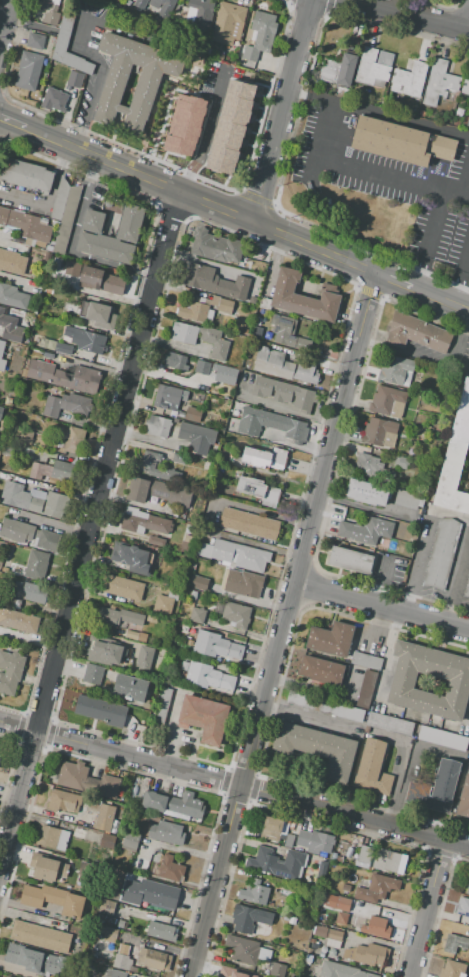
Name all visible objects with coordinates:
building: (157, 7)
building: (48, 11)
road: (3, 13)
building: (202, 13)
road: (405, 16)
building: (228, 24)
road: (468, 28)
building: (64, 32)
building: (260, 35)
building: (36, 41)
building: (219, 57)
building: (374, 68)
building: (28, 70)
building: (338, 70)
road: (100, 75)
building: (74, 79)
building: (409, 80)
building: (439, 83)
building: (465, 86)
building: (168, 88)
building: (112, 91)
road: (307, 97)
building: (53, 100)
road: (278, 111)
building: (467, 120)
road: (400, 121)
building: (174, 122)
road: (13, 124)
building: (229, 125)
road: (206, 136)
building: (400, 142)
road: (101, 161)
road: (367, 169)
building: (25, 174)
building: (60, 199)
road: (51, 201)
road: (212, 207)
building: (67, 219)
building: (129, 224)
building: (25, 225)
road: (430, 241)
building: (216, 246)
building: (49, 248)
road: (71, 248)
road: (311, 248)
building: (32, 253)
building: (47, 256)
building: (11, 262)
road: (460, 275)
building: (101, 280)
road: (390, 281)
building: (216, 282)
building: (13, 296)
building: (301, 296)
building: (253, 300)
road: (437, 300)
building: (204, 308)
building: (101, 316)
building: (9, 328)
building: (287, 333)
building: (416, 333)
building: (199, 338)
building: (85, 339)
building: (1, 347)
building: (63, 348)
building: (48, 355)
road: (429, 357)
building: (175, 361)
building: (2, 364)
building: (284, 366)
building: (201, 367)
building: (396, 370)
building: (224, 373)
building: (239, 375)
building: (65, 376)
road: (167, 376)
building: (239, 386)
building: (283, 393)
building: (169, 397)
building: (8, 400)
building: (387, 401)
building: (235, 404)
building: (65, 405)
building: (1, 412)
building: (192, 414)
building: (174, 420)
building: (156, 425)
building: (271, 425)
building: (221, 428)
building: (380, 432)
building: (24, 436)
building: (196, 438)
building: (74, 440)
building: (264, 458)
building: (454, 458)
building: (401, 463)
building: (372, 467)
building: (53, 471)
building: (4, 476)
building: (258, 490)
building: (155, 491)
building: (366, 492)
building: (21, 497)
building: (407, 499)
building: (56, 505)
building: (177, 514)
building: (145, 523)
building: (249, 523)
road: (88, 529)
building: (365, 530)
building: (29, 535)
building: (155, 540)
road: (423, 544)
building: (441, 553)
building: (234, 554)
building: (132, 560)
building: (350, 560)
building: (36, 564)
road: (456, 572)
road: (379, 582)
building: (198, 583)
building: (243, 583)
building: (119, 587)
building: (466, 587)
building: (34, 593)
building: (192, 594)
building: (11, 602)
building: (167, 603)
road: (381, 605)
building: (233, 613)
building: (193, 614)
building: (119, 617)
building: (18, 620)
road: (282, 626)
building: (133, 628)
building: (136, 635)
building: (331, 639)
building: (216, 645)
building: (98, 648)
building: (143, 658)
building: (366, 661)
building: (184, 666)
building: (10, 671)
building: (320, 671)
building: (91, 673)
building: (207, 677)
building: (450, 678)
building: (130, 687)
building: (366, 688)
building: (324, 705)
building: (101, 711)
building: (203, 717)
building: (390, 724)
building: (443, 738)
building: (0, 747)
building: (317, 749)
building: (372, 770)
building: (85, 779)
road: (234, 783)
building: (435, 788)
building: (464, 799)
building: (63, 801)
building: (173, 806)
building: (101, 814)
building: (271, 829)
building: (164, 832)
building: (52, 837)
building: (106, 840)
building: (130, 840)
building: (288, 841)
building: (314, 841)
building: (349, 854)
building: (363, 857)
building: (385, 860)
building: (277, 863)
building: (47, 868)
building: (168, 868)
building: (321, 872)
building: (376, 888)
building: (467, 889)
building: (149, 893)
building: (253, 894)
building: (54, 900)
building: (329, 901)
building: (342, 904)
building: (462, 907)
building: (106, 908)
building: (355, 908)
road: (428, 908)
building: (364, 910)
building: (324, 916)
road: (30, 917)
building: (285, 917)
building: (248, 918)
building: (341, 918)
building: (291, 920)
building: (121, 924)
building: (375, 927)
building: (319, 931)
building: (109, 932)
building: (161, 932)
building: (335, 934)
building: (40, 937)
building: (312, 940)
building: (454, 943)
building: (242, 950)
building: (308, 951)
building: (20, 954)
building: (321, 954)
building: (366, 954)
building: (153, 959)
building: (123, 962)
building: (50, 965)
building: (452, 969)
building: (276, 970)
building: (341, 971)
building: (228, 972)
building: (113, 973)
building: (6, 976)

